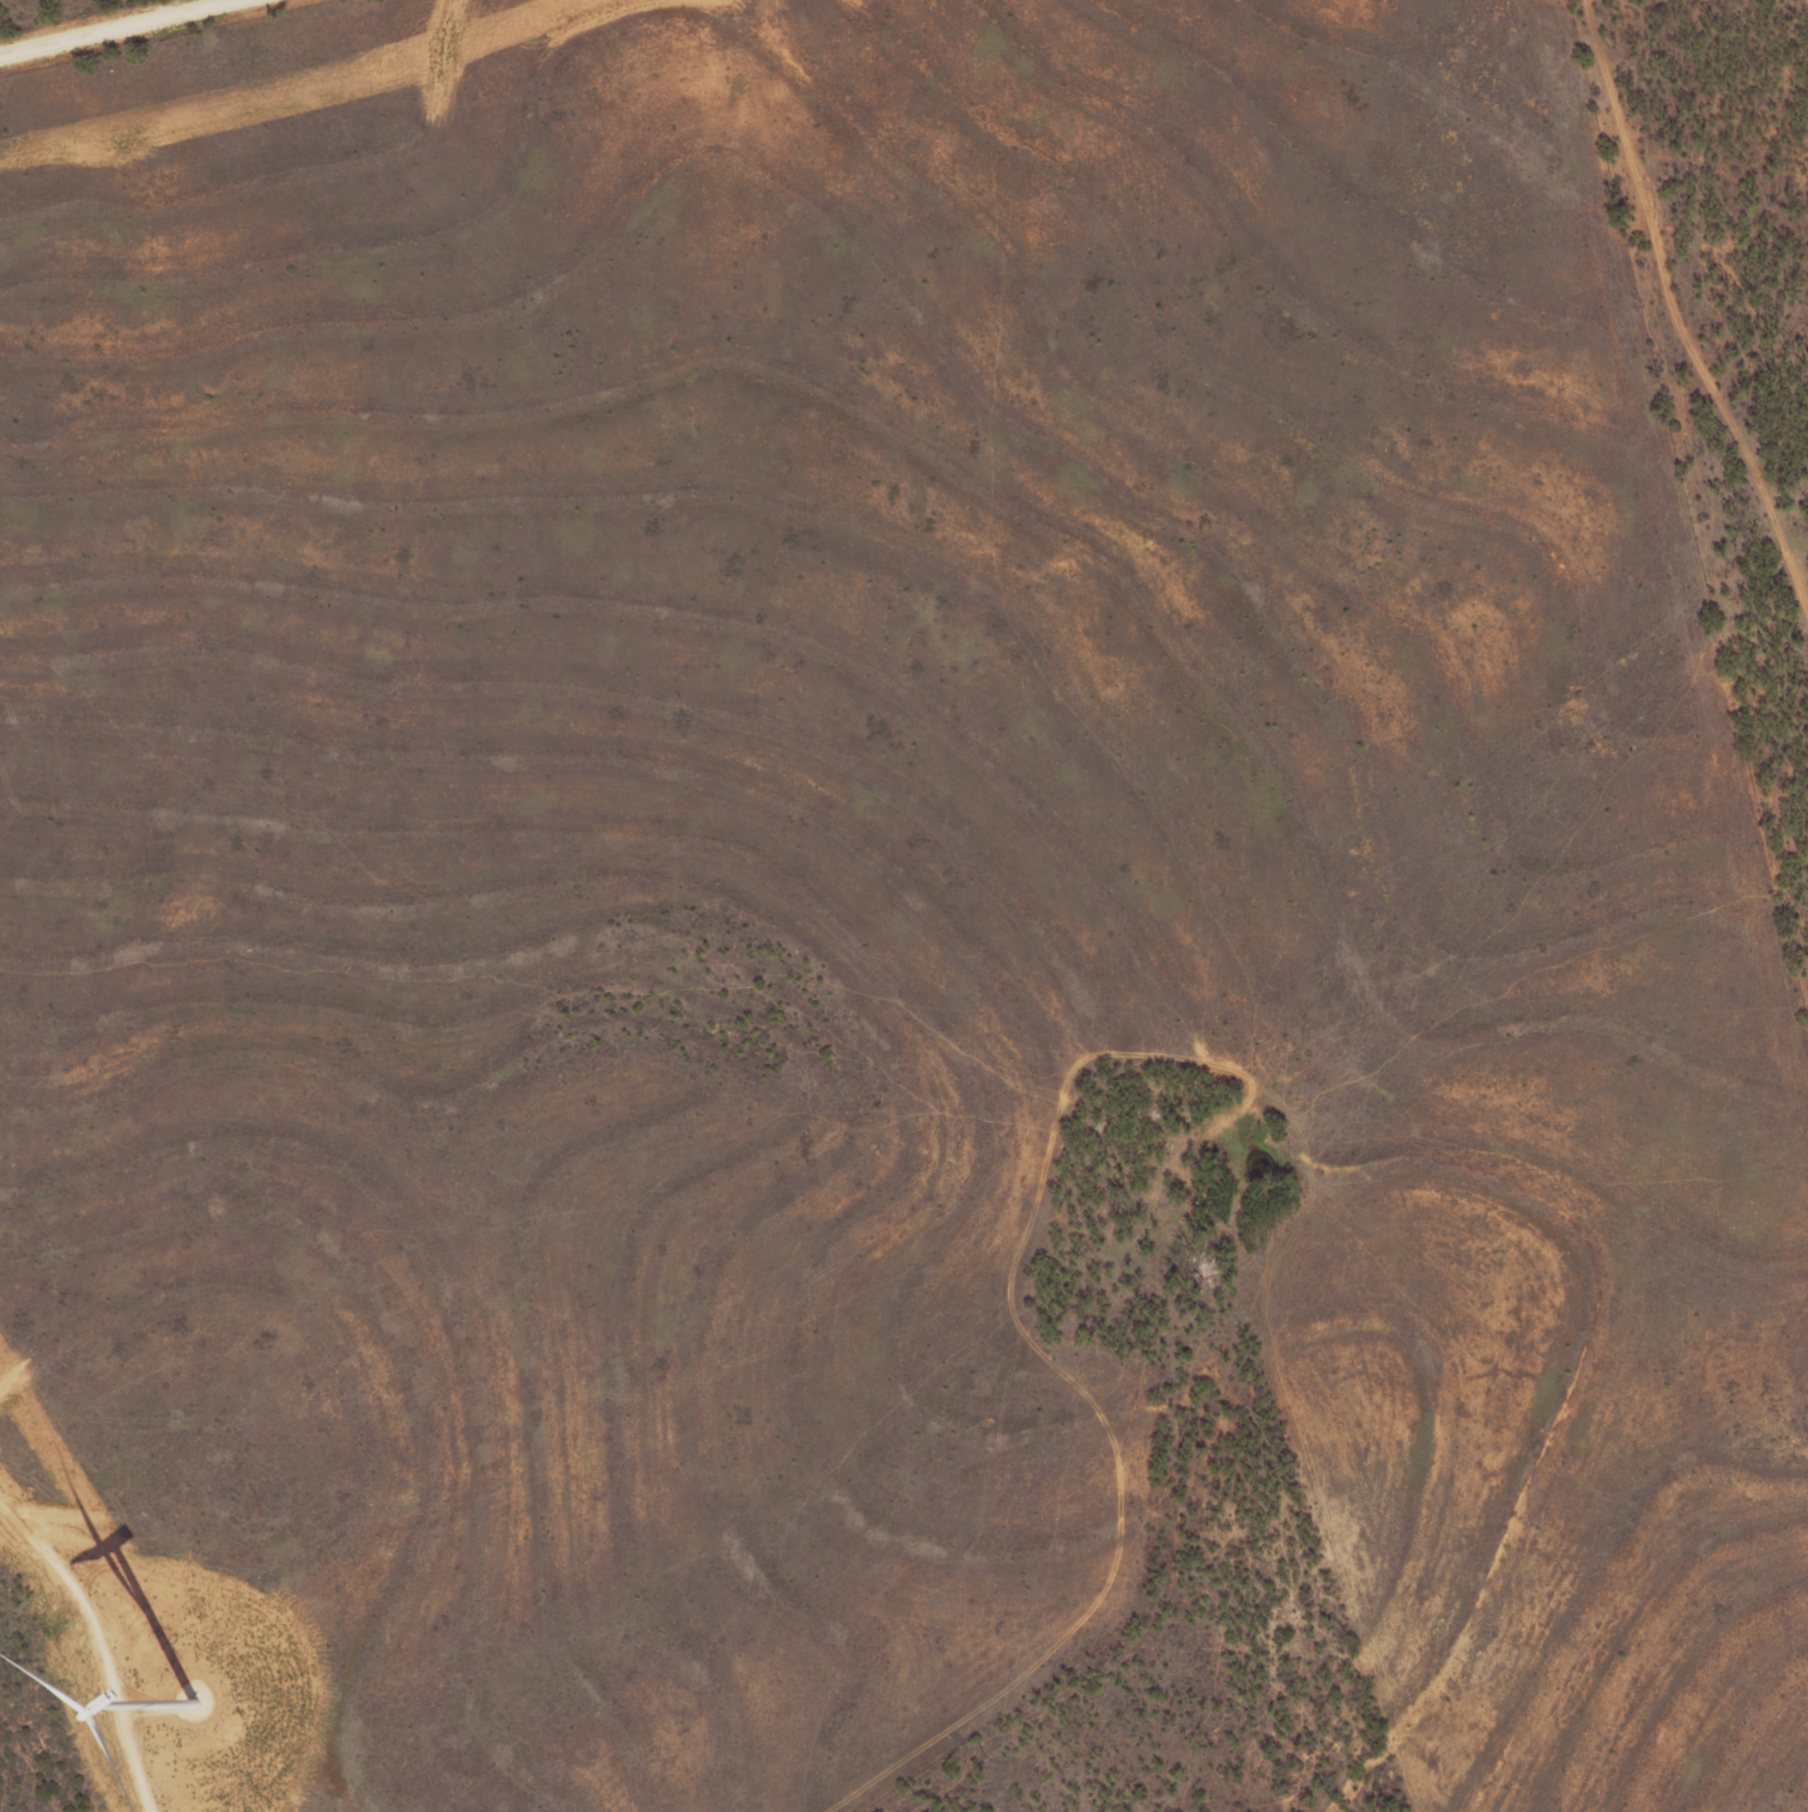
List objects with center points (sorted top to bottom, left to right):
road: (119, 28)
road: (1663, 280)
road: (104, 1641)
wind turbine: (198, 1702)

